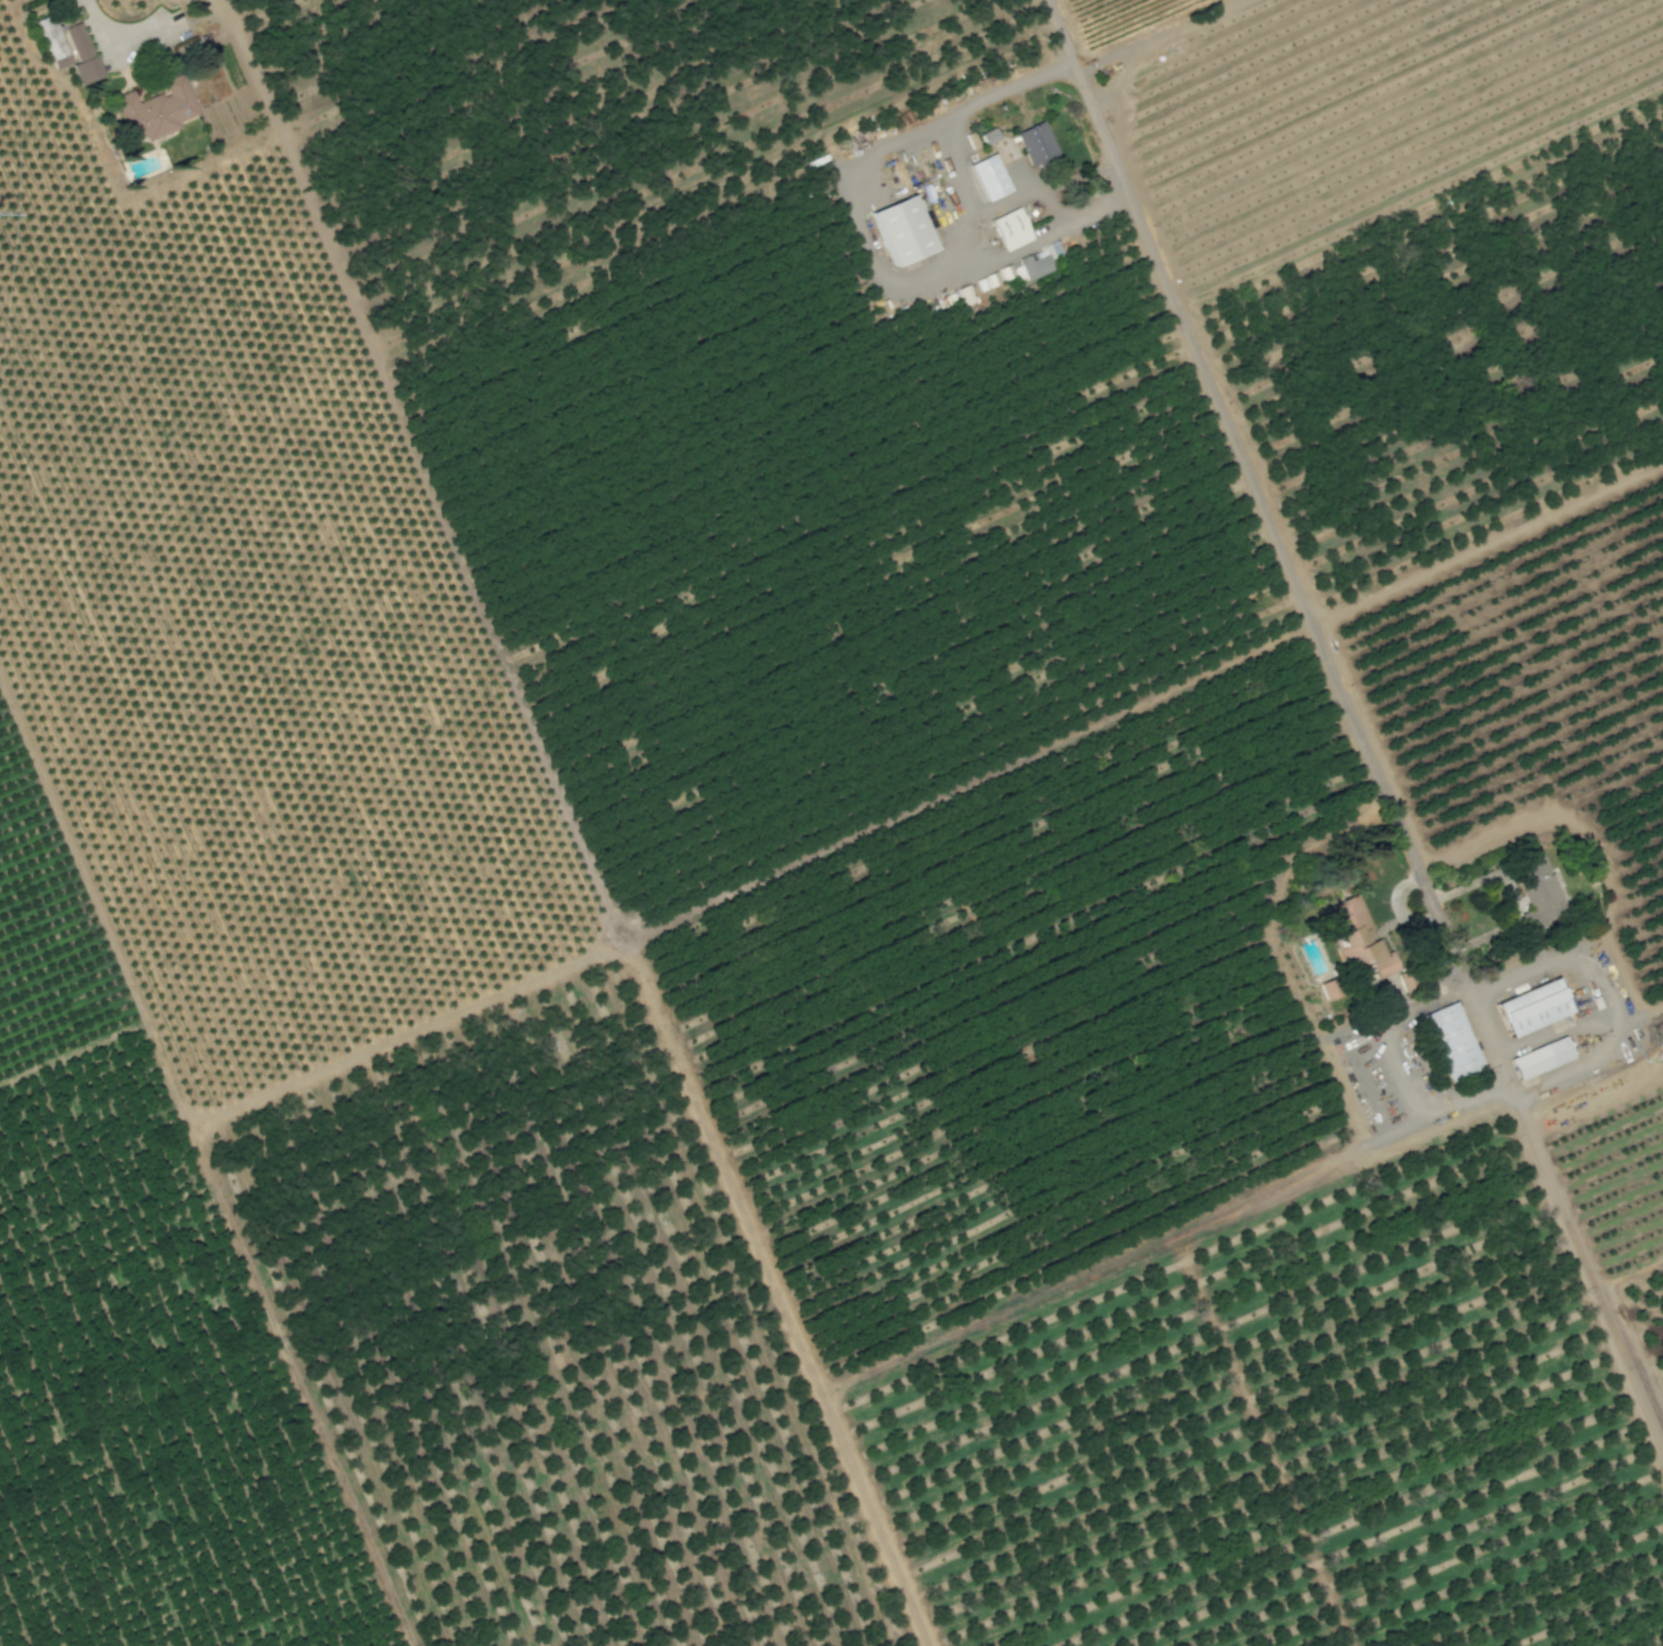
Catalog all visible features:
road: (101, 32)
road: (1159, 34)
building: (50, 41)
building: (78, 54)
road: (1122, 77)
building: (153, 111)
building: (986, 136)
building: (1033, 142)
building: (986, 177)
road: (1004, 207)
building: (1009, 229)
building: (899, 230)
road: (865, 234)
building: (1036, 264)
building: (987, 281)
building: (966, 295)
road: (1272, 524)
building: (1537, 892)
building: (1348, 931)
building: (1375, 970)
building: (1530, 1009)
road: (1612, 1019)
building: (1451, 1043)
building: (1538, 1060)
road: (1401, 1064)

